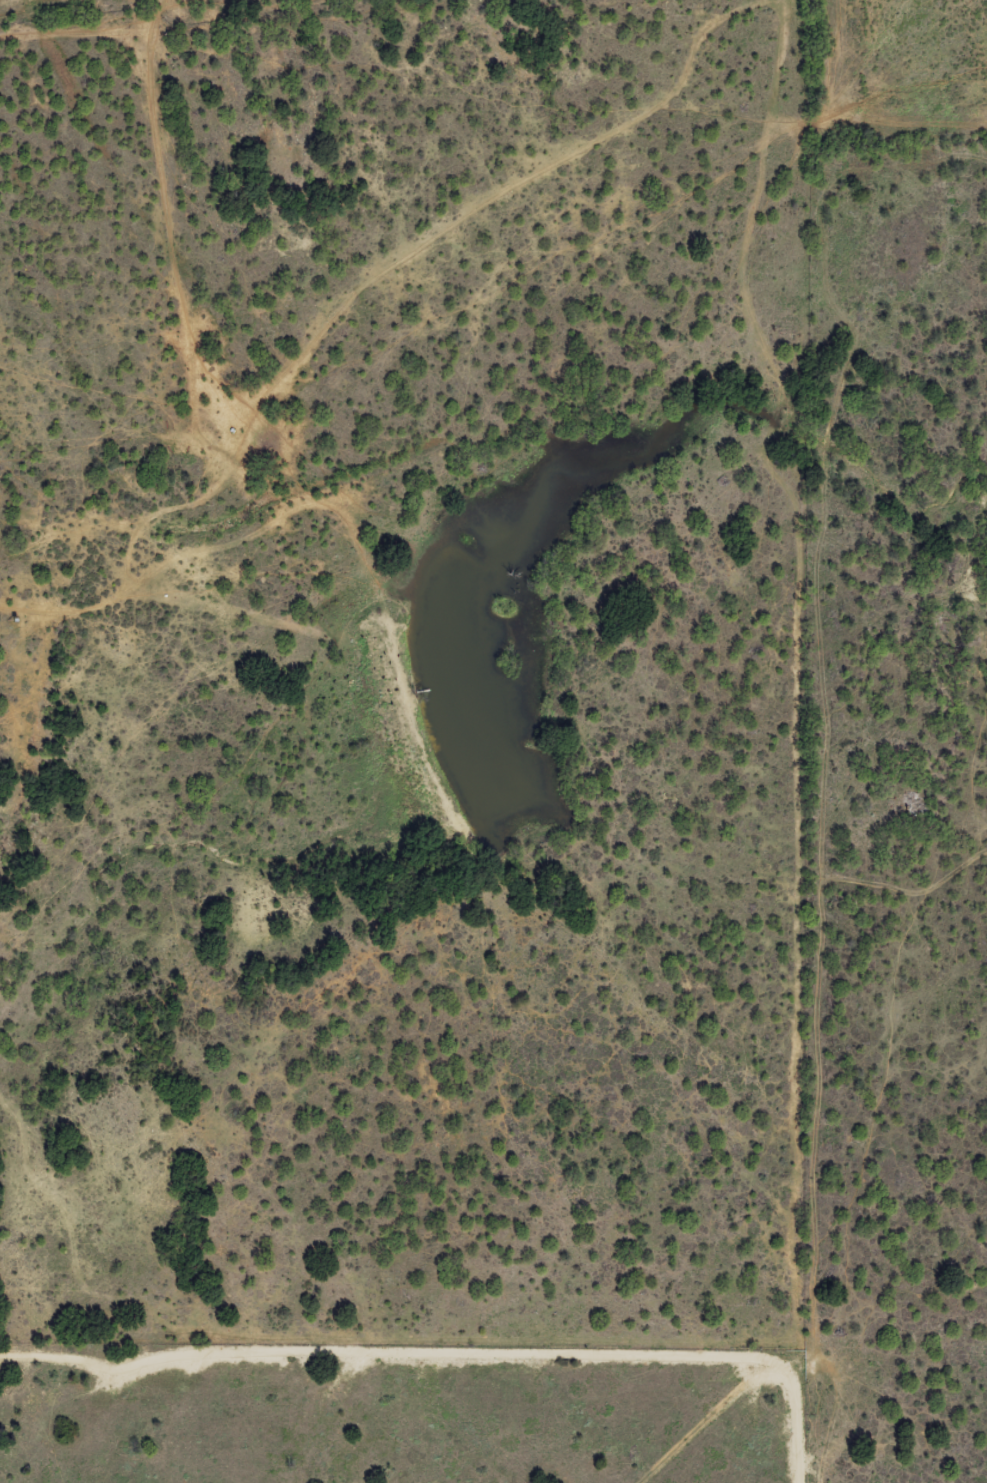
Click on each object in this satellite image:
road: (867, 1160)

